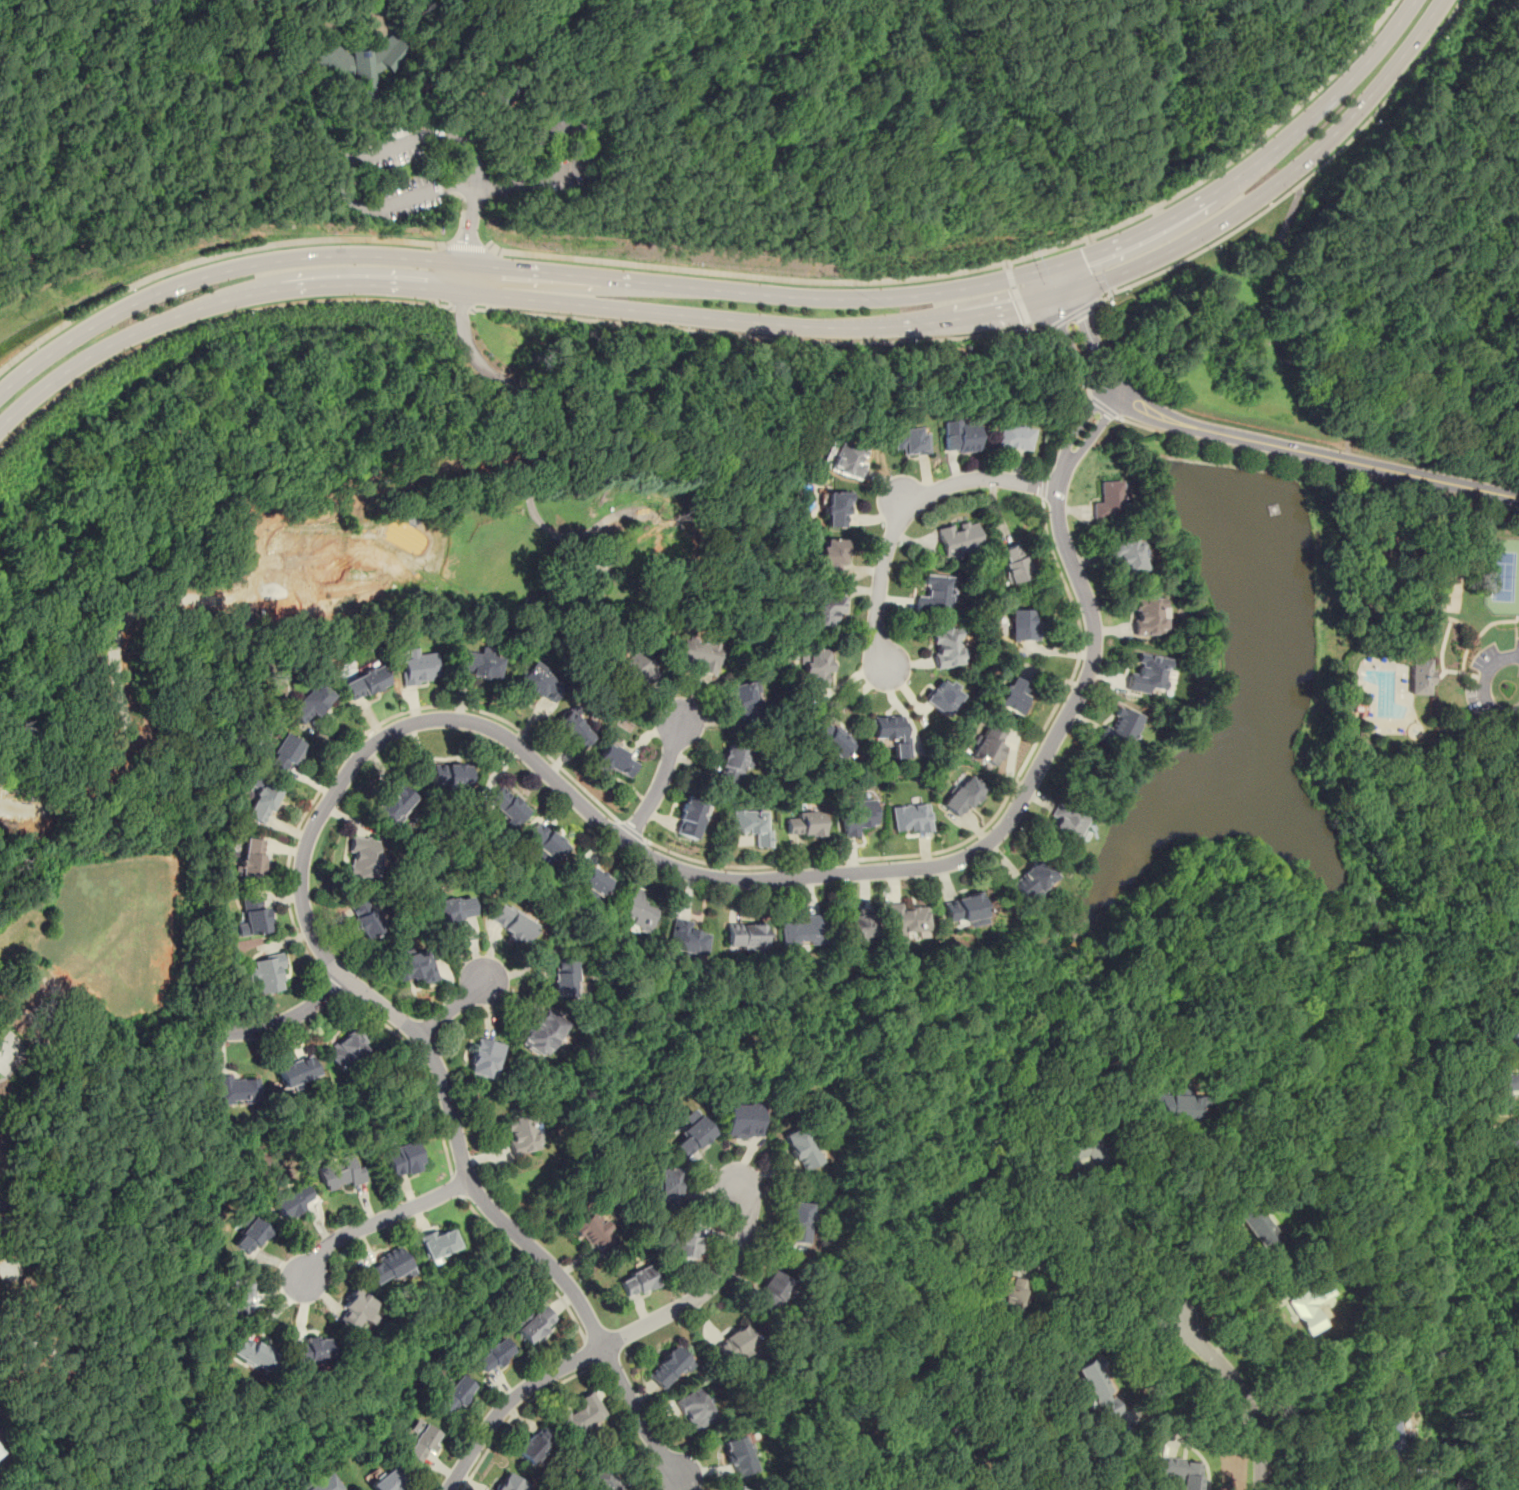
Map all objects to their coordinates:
road: (376, 13)
road: (311, 15)
road: (382, 34)
road: (329, 35)
road: (362, 41)
road: (152, 54)
road: (480, 54)
road: (348, 56)
road: (364, 60)
building: (361, 64)
road: (406, 104)
road: (309, 112)
road: (535, 136)
road: (593, 143)
road: (393, 146)
park: (515, 149)
road: (543, 162)
parking lot: (397, 171)
parking lot: (561, 173)
road: (1277, 180)
road: (1303, 180)
road: (468, 244)
road: (208, 257)
road: (985, 267)
road: (435, 274)
road: (496, 280)
road: (1058, 281)
road: (738, 291)
road: (1019, 295)
road: (515, 296)
road: (460, 309)
road: (1071, 316)
road: (207, 320)
road: (1276, 330)
road: (803, 340)
road: (1092, 341)
road: (1070, 353)
road: (1101, 406)
road: (544, 434)
building: (958, 434)
building: (1013, 438)
road: (1060, 438)
building: (908, 439)
road: (1229, 447)
road: (1313, 453)
building: (844, 458)
road: (1344, 461)
road: (1045, 485)
road: (1430, 492)
building: (1107, 501)
building: (836, 508)
road: (902, 512)
building: (958, 538)
building: (658, 547)
building: (1126, 554)
building: (830, 555)
building: (622, 561)
building: (1012, 563)
park: (1501, 577)
park: (1448, 584)
road: (1407, 589)
building: (934, 596)
building: (822, 614)
building: (1149, 615)
road: (1492, 623)
building: (1022, 624)
road: (1515, 628)
road: (1470, 639)
building: (948, 646)
building: (698, 654)
building: (477, 664)
building: (815, 665)
building: (417, 666)
building: (638, 668)
building: (1148, 674)
building: (1420, 677)
building: (364, 682)
building: (539, 682)
road: (1483, 685)
building: (1013, 695)
building: (943, 697)
building: (747, 701)
building: (310, 703)
road: (374, 726)
building: (573, 726)
building: (1121, 730)
building: (892, 733)
road: (509, 739)
building: (831, 740)
building: (989, 743)
building: (285, 752)
building: (614, 760)
building: (733, 763)
building: (450, 775)
road: (659, 783)
building: (963, 795)
building: (1518, 795)
building: (263, 802)
building: (394, 804)
building: (506, 806)
building: (857, 815)
building: (689, 817)
building: (911, 818)
building: (804, 823)
road: (987, 823)
building: (753, 825)
building: (1067, 826)
road: (631, 831)
building: (1516, 840)
building: (544, 842)
building: (363, 857)
building: (253, 858)
building: (589, 879)
building: (1034, 881)
road: (1478, 902)
building: (454, 908)
building: (636, 909)
building: (965, 910)
building: (254, 915)
building: (365, 918)
building: (907, 920)
building: (513, 923)
building: (857, 925)
building: (803, 931)
building: (746, 937)
building: (687, 940)
building: (416, 965)
building: (268, 973)
building: (565, 976)
road: (335, 985)
road: (453, 1006)
road: (283, 1021)
road: (1417, 1022)
building: (544, 1033)
building: (1515, 1036)
building: (348, 1048)
building: (485, 1058)
road: (423, 1067)
building: (297, 1071)
building: (236, 1089)
building: (1501, 1089)
building: (1180, 1106)
building: (742, 1120)
building: (523, 1132)
building: (689, 1134)
building: (1511, 1138)
building: (801, 1148)
building: (1081, 1148)
building: (402, 1158)
building: (339, 1172)
road: (456, 1185)
building: (668, 1187)
building: (292, 1201)
road: (1153, 1213)
road: (375, 1220)
building: (798, 1222)
building: (1257, 1224)
building: (593, 1232)
building: (249, 1234)
building: (438, 1241)
building: (683, 1241)
road: (1112, 1252)
road: (528, 1264)
building: (387, 1266)
building: (637, 1281)
building: (772, 1291)
building: (1012, 1294)
road: (1239, 1294)
road: (1091, 1295)
building: (235, 1296)
building: (1310, 1305)
building: (355, 1311)
building: (533, 1323)
road: (1251, 1323)
road: (617, 1338)
building: (736, 1344)
building: (312, 1349)
road: (590, 1351)
building: (253, 1353)
building: (491, 1354)
building: (668, 1366)
road: (1159, 1376)
building: (1100, 1389)
road: (1238, 1391)
building: (452, 1394)
building: (696, 1409)
road: (515, 1412)
building: (581, 1413)
road: (1205, 1422)
building: (1388, 1437)
building: (419, 1441)
building: (534, 1444)
building: (1, 1451)
building: (738, 1457)
building: (1178, 1470)
building: (603, 1479)
building: (385, 1480)
building: (510, 1482)
building: (322, 1483)
building: (737, 1489)

